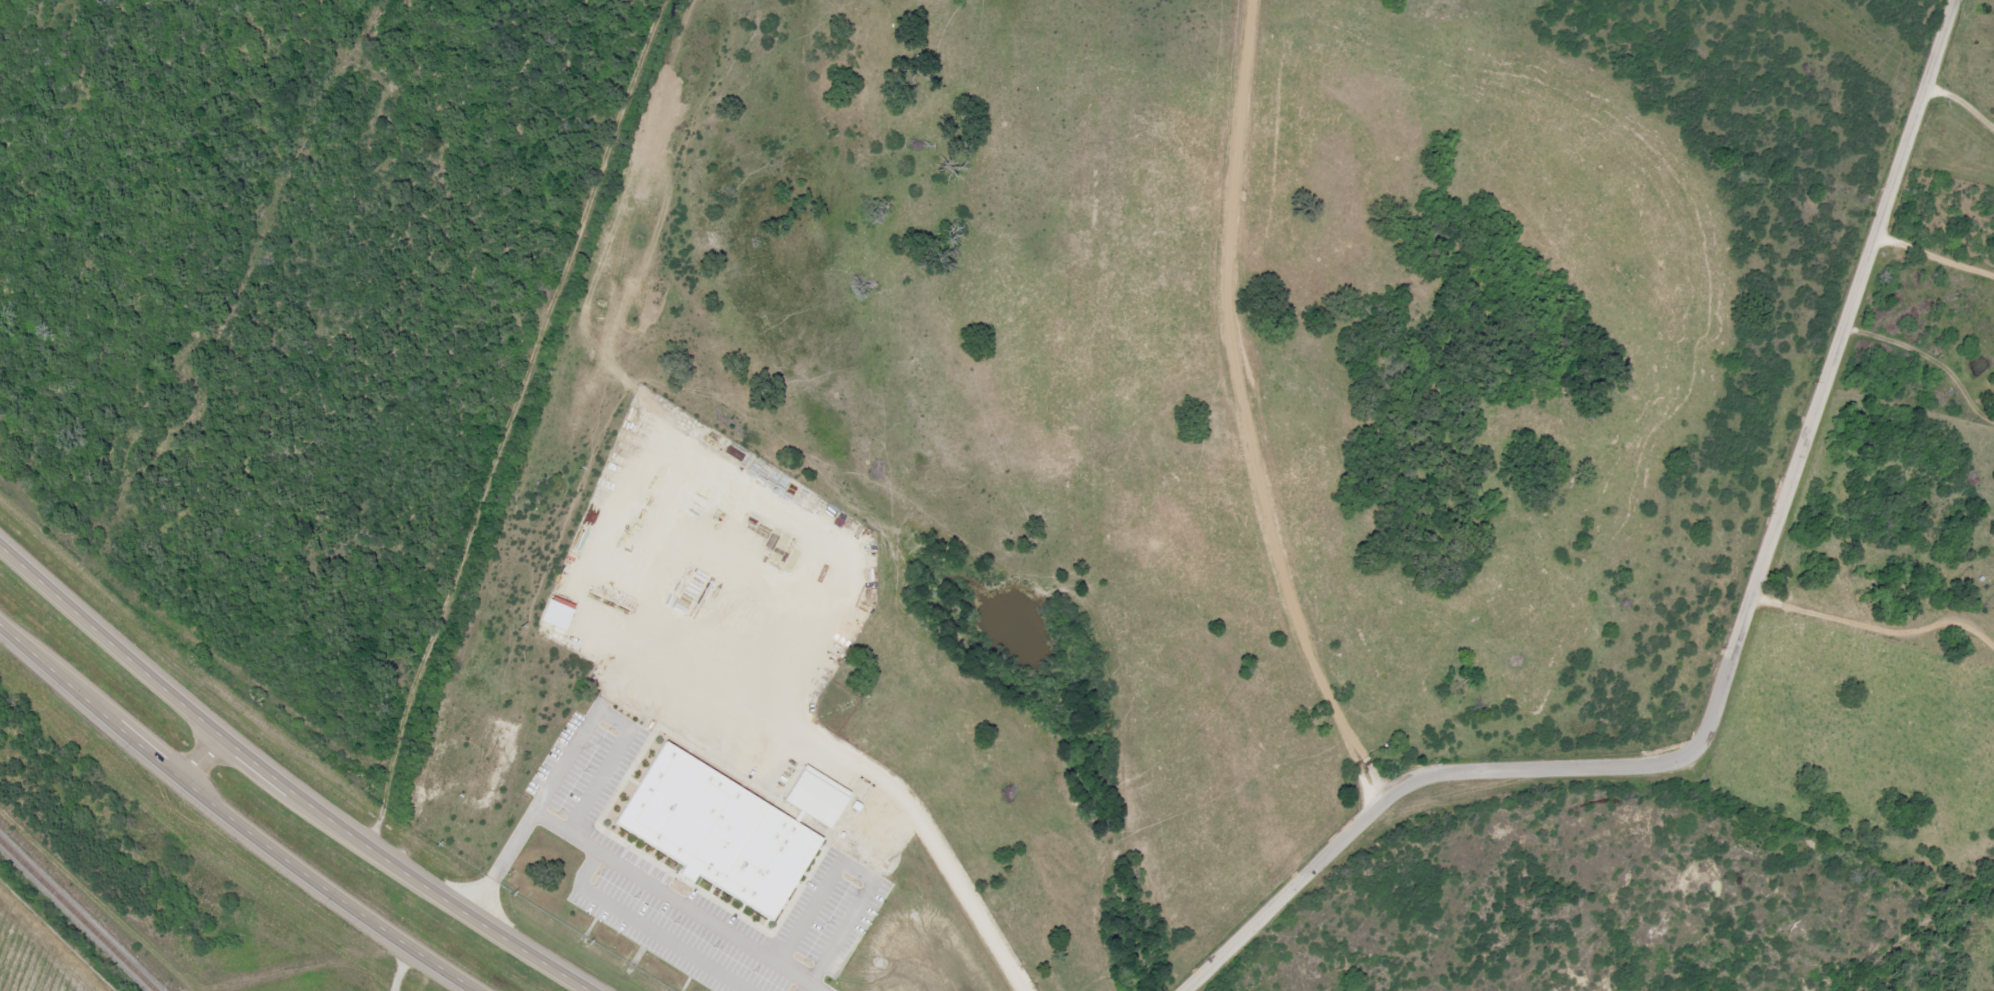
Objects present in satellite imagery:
road: (1361, 400)
road: (1885, 411)
road: (522, 488)
building: (555, 615)
road: (1731, 660)
road: (202, 757)
road: (288, 786)
building: (814, 795)
road: (227, 815)
building: (716, 831)
railway: (77, 916)

